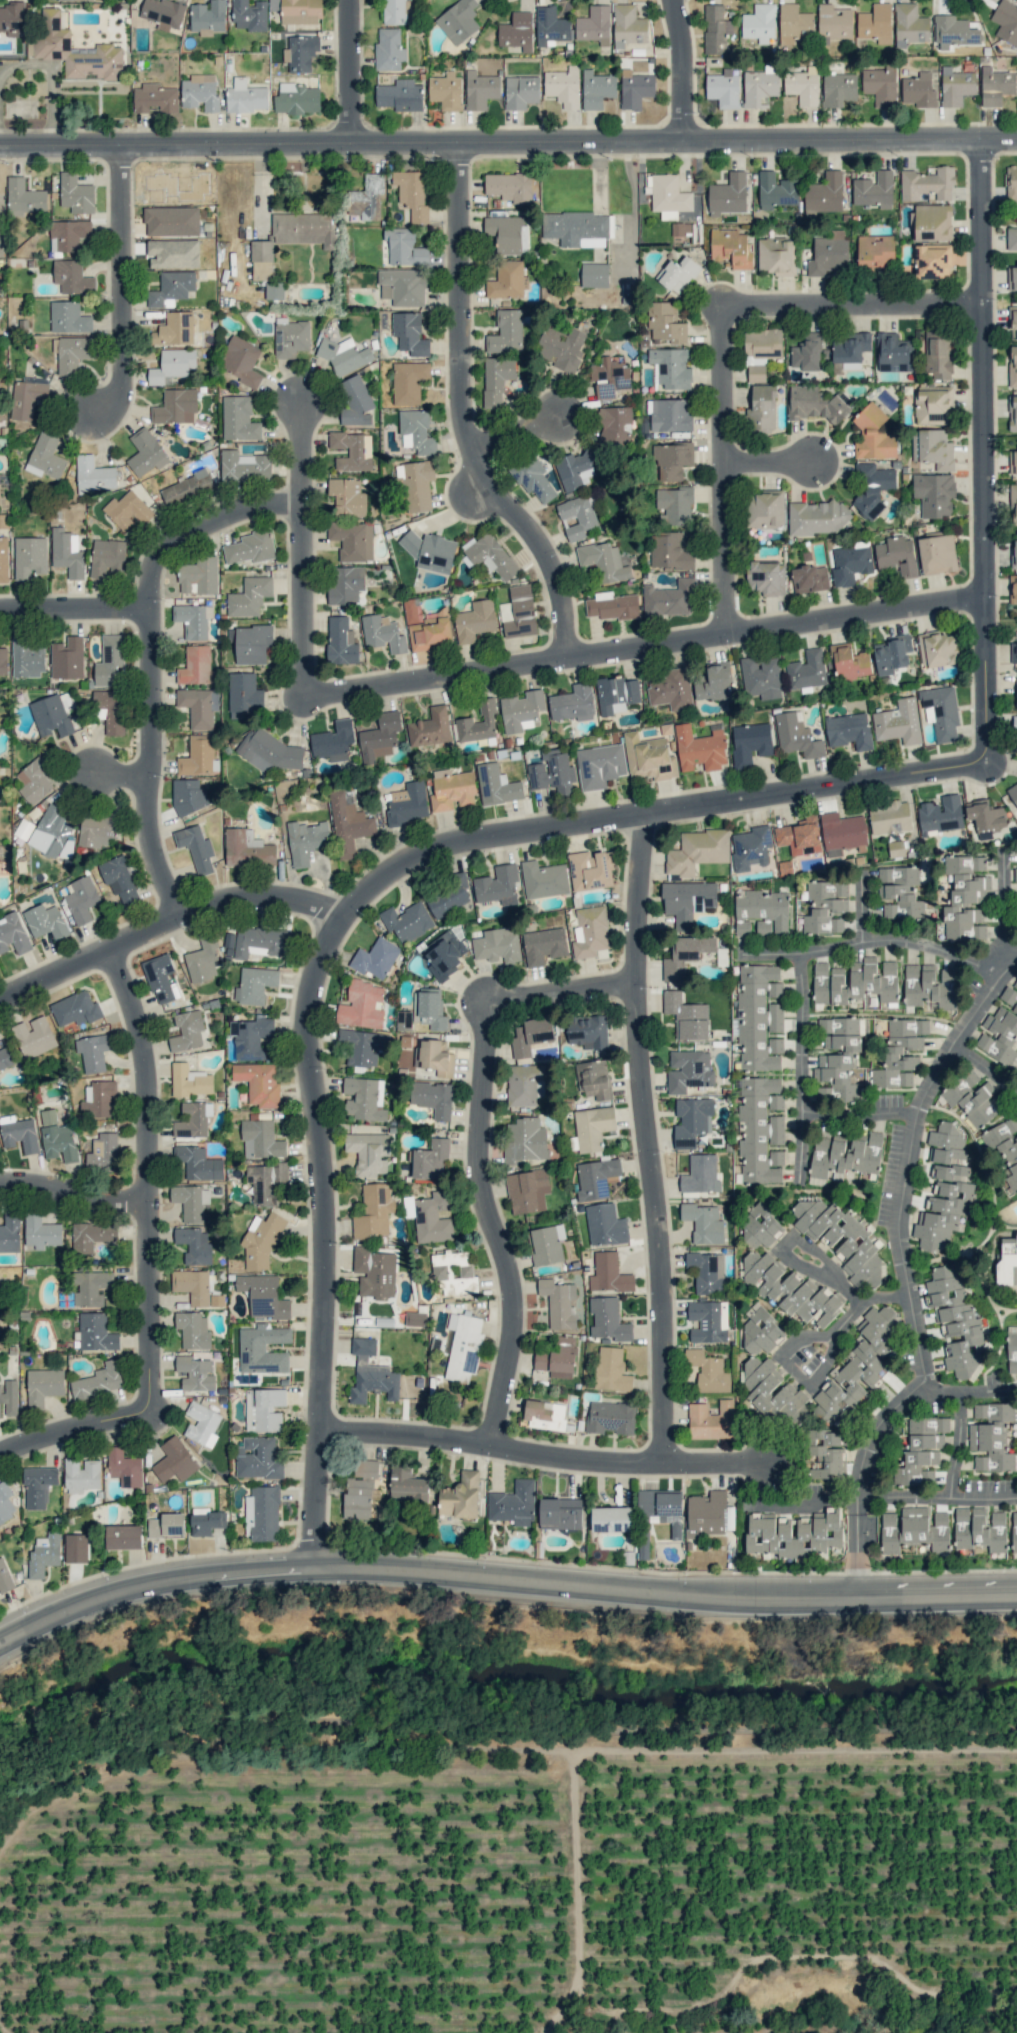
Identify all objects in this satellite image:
building: (65, 0)
building: (274, 5)
building: (301, 11)
building: (394, 12)
building: (163, 13)
building: (249, 15)
building: (208, 17)
building: (13, 18)
building: (458, 21)
building: (1006, 21)
building: (834, 22)
building: (760, 23)
building: (794, 23)
building: (875, 23)
building: (910, 24)
building: (594, 25)
building: (551, 26)
building: (628, 26)
building: (715, 30)
building: (516, 31)
building: (955, 31)
building: (53, 36)
building: (29, 48)
building: (388, 49)
building: (300, 52)
road: (682, 70)
road: (352, 72)
building: (880, 85)
building: (996, 85)
building: (563, 86)
building: (760, 86)
building: (803, 86)
building: (956, 86)
building: (724, 88)
building: (480, 89)
building: (597, 89)
building: (838, 89)
building: (636, 90)
building: (918, 90)
building: (446, 91)
building: (200, 92)
building: (521, 92)
building: (400, 95)
building: (246, 97)
building: (155, 98)
building: (297, 99)
road: (508, 143)
building: (1011, 183)
building: (927, 184)
building: (509, 186)
building: (777, 190)
building: (874, 190)
building: (76, 194)
building: (412, 194)
building: (824, 194)
building: (667, 195)
building: (727, 195)
building: (24, 197)
building: (366, 197)
building: (171, 221)
building: (932, 221)
building: (576, 228)
building: (679, 228)
building: (508, 233)
building: (68, 234)
building: (291, 238)
building: (1011, 238)
building: (404, 247)
building: (730, 247)
building: (875, 251)
building: (173, 253)
building: (829, 254)
building: (776, 255)
building: (933, 261)
building: (677, 274)
building: (594, 275)
building: (72, 277)
building: (1012, 278)
building: (506, 280)
road: (126, 286)
building: (171, 287)
building: (402, 287)
building: (274, 290)
road: (858, 303)
building: (68, 317)
building: (1013, 322)
building: (665, 323)
building: (174, 329)
building: (506, 332)
building: (409, 333)
building: (290, 337)
building: (560, 348)
building: (849, 349)
building: (761, 351)
building: (806, 352)
building: (72, 353)
building: (893, 353)
building: (344, 355)
building: (938, 356)
building: (240, 360)
building: (172, 365)
building: (671, 367)
building: (1012, 367)
building: (609, 377)
building: (496, 379)
building: (408, 381)
building: (28, 398)
building: (355, 401)
building: (817, 404)
building: (933, 405)
building: (176, 406)
building: (761, 407)
building: (1012, 413)
road: (469, 414)
building: (670, 414)
building: (239, 419)
building: (614, 425)
building: (416, 432)
road: (522, 433)
building: (873, 435)
building: (933, 448)
road: (989, 449)
building: (352, 450)
building: (145, 452)
building: (45, 457)
building: (671, 460)
building: (1013, 462)
road: (777, 463)
building: (244, 466)
road: (731, 468)
building: (575, 469)
building: (94, 476)
building: (532, 477)
building: (416, 485)
building: (186, 487)
building: (872, 489)
building: (934, 494)
building: (347, 496)
building: (1013, 503)
building: (674, 505)
building: (764, 509)
building: (127, 510)
building: (578, 516)
building: (815, 517)
building: (3, 520)
building: (353, 540)
building: (250, 547)
building: (1015, 548)
road: (307, 550)
building: (430, 550)
building: (670, 551)
building: (67, 553)
building: (937, 554)
building: (490, 555)
building: (896, 555)
building: (30, 556)
building: (107, 557)
building: (3, 559)
building: (604, 561)
building: (849, 562)
building: (198, 575)
building: (766, 577)
building: (809, 578)
building: (345, 584)
building: (1013, 590)
building: (249, 596)
building: (669, 598)
building: (612, 606)
road: (77, 609)
building: (518, 612)
building: (191, 620)
building: (474, 620)
building: (426, 627)
building: (383, 633)
building: (341, 642)
building: (252, 643)
road: (649, 645)
building: (938, 649)
building: (1013, 652)
building: (892, 654)
building: (27, 658)
building: (67, 658)
road: (155, 659)
building: (3, 661)
building: (110, 662)
building: (849, 662)
building: (195, 666)
building: (807, 670)
building: (760, 677)
building: (713, 683)
building: (669, 689)
building: (616, 694)
building: (1016, 694)
building: (244, 695)
building: (573, 703)
building: (199, 706)
building: (109, 710)
building: (522, 711)
building: (941, 712)
building: (51, 716)
building: (898, 722)
building: (477, 723)
building: (1015, 724)
building: (430, 728)
building: (848, 730)
building: (796, 735)
building: (380, 737)
building: (333, 741)
building: (750, 744)
building: (700, 748)
building: (269, 751)
building: (197, 755)
building: (649, 757)
building: (599, 765)
building: (552, 772)
road: (125, 776)
building: (34, 780)
building: (497, 785)
building: (452, 790)
building: (1012, 793)
building: (407, 803)
building: (941, 815)
building: (889, 817)
building: (986, 818)
building: (348, 825)
building: (97, 830)
building: (842, 831)
building: (50, 832)
building: (799, 836)
building: (306, 841)
building: (196, 847)
building: (750, 847)
building: (896, 848)
building: (247, 849)
building: (697, 851)
building: (590, 870)
building: (1015, 874)
building: (120, 879)
building: (543, 879)
building: (497, 885)
building: (902, 894)
building: (448, 897)
building: (965, 897)
building: (82, 899)
building: (687, 901)
building: (825, 907)
road: (352, 910)
building: (761, 911)
road: (860, 911)
building: (46, 921)
building: (407, 921)
road: (167, 923)
building: (590, 931)
building: (13, 934)
building: (256, 942)
building: (497, 945)
building: (544, 945)
road: (769, 953)
building: (444, 955)
building: (685, 955)
building: (375, 958)
building: (202, 960)
road: (797, 960)
building: (159, 976)
building: (854, 982)
building: (255, 985)
building: (930, 986)
road: (560, 993)
building: (361, 1005)
building: (75, 1009)
building: (429, 1009)
building: (686, 1016)
building: (759, 1017)
building: (1001, 1029)
building: (187, 1031)
building: (587, 1031)
building: (34, 1036)
building: (531, 1036)
building: (250, 1037)
building: (363, 1046)
building: (93, 1052)
building: (900, 1052)
building: (434, 1057)
building: (5, 1058)
building: (837, 1058)
road: (987, 1069)
building: (688, 1070)
building: (593, 1079)
building: (189, 1080)
building: (259, 1083)
building: (525, 1084)
building: (97, 1098)
building: (364, 1098)
building: (433, 1098)
road: (862, 1112)
building: (193, 1120)
building: (691, 1121)
building: (592, 1127)
building: (760, 1129)
building: (19, 1133)
building: (57, 1137)
road: (646, 1138)
building: (261, 1140)
building: (525, 1140)
building: (1005, 1146)
building: (369, 1152)
building: (103, 1153)
building: (846, 1153)
building: (430, 1160)
building: (198, 1163)
building: (700, 1174)
road: (148, 1177)
building: (595, 1178)
building: (266, 1181)
building: (527, 1190)
building: (944, 1190)
road: (74, 1194)
building: (188, 1201)
building: (373, 1211)
building: (433, 1217)
road: (903, 1222)
building: (703, 1223)
building: (605, 1225)
building: (760, 1228)
road: (492, 1229)
building: (41, 1232)
building: (10, 1233)
building: (92, 1236)
building: (261, 1240)
building: (861, 1242)
building: (547, 1244)
building: (195, 1245)
building: (1007, 1261)
building: (706, 1271)
building: (374, 1272)
building: (454, 1273)
building: (608, 1274)
building: (192, 1285)
road: (841, 1286)
building: (91, 1287)
building: (790, 1290)
building: (264, 1296)
building: (558, 1303)
building: (414, 1318)
building: (608, 1319)
building: (708, 1321)
building: (956, 1322)
building: (760, 1329)
building: (193, 1330)
building: (96, 1332)
building: (463, 1346)
building: (262, 1349)
building: (1012, 1349)
road: (782, 1353)
building: (558, 1358)
building: (859, 1367)
building: (611, 1370)
building: (708, 1371)
building: (194, 1373)
building: (371, 1374)
building: (99, 1381)
building: (44, 1385)
road: (964, 1390)
building: (8, 1398)
building: (263, 1409)
building: (545, 1415)
building: (610, 1417)
building: (711, 1420)
building: (201, 1423)
road: (73, 1428)
building: (992, 1437)
road: (953, 1445)
building: (922, 1450)
building: (826, 1454)
building: (257, 1458)
road: (544, 1459)
building: (174, 1460)
building: (124, 1467)
building: (81, 1474)
building: (407, 1485)
building: (38, 1486)
building: (359, 1489)
building: (460, 1496)
road: (937, 1500)
building: (6, 1502)
building: (513, 1503)
road: (858, 1503)
building: (661, 1509)
building: (560, 1513)
building: (262, 1514)
building: (708, 1514)
building: (612, 1519)
building: (206, 1520)
building: (167, 1525)
building: (979, 1529)
building: (819, 1530)
building: (914, 1530)
building: (1014, 1531)
building: (124, 1537)
building: (643, 1545)
building: (76, 1548)
building: (44, 1554)
road: (860, 1556)
building: (4, 1577)
road: (502, 1585)
road: (497, 1720)

